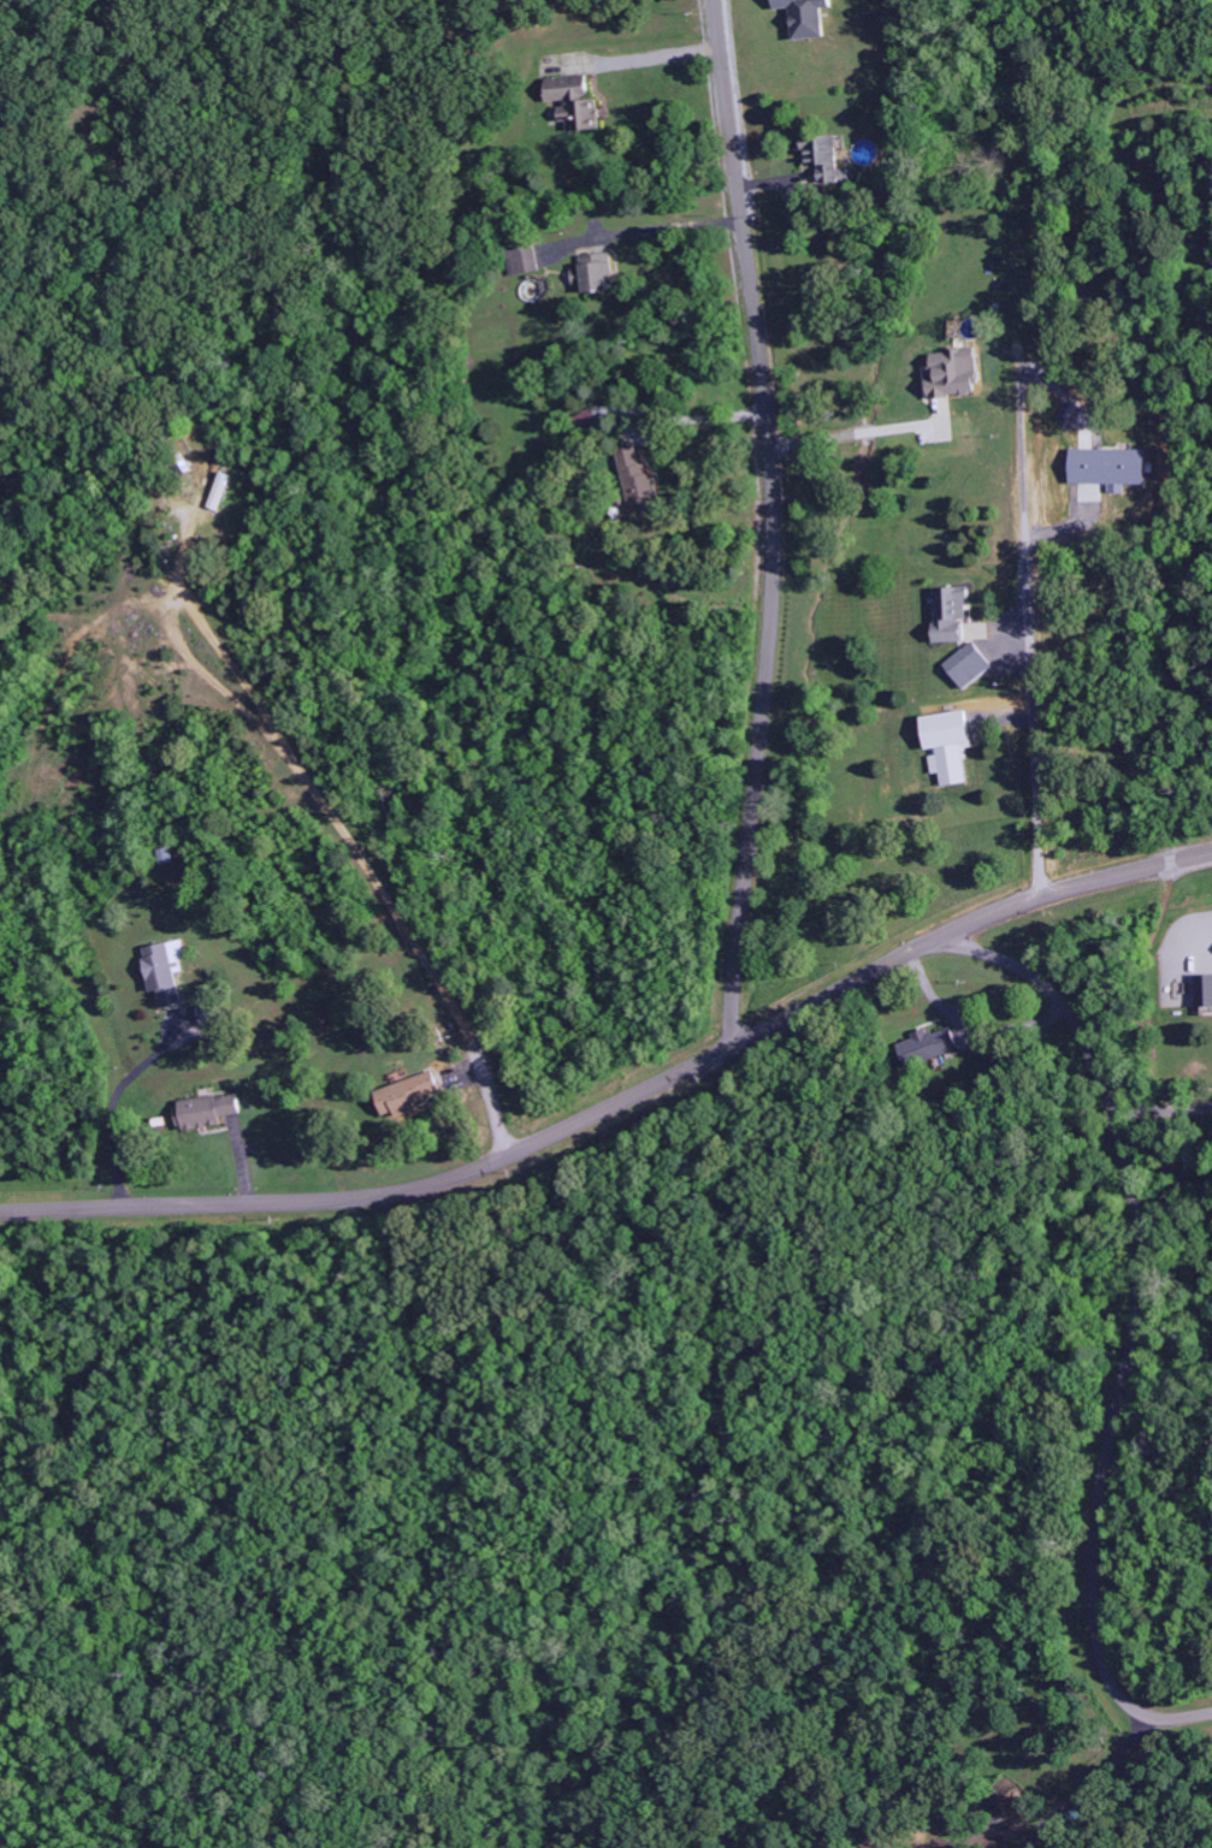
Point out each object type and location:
building: (802, 17)
building: (569, 101)
building: (820, 160)
building: (520, 260)
building: (591, 272)
building: (951, 373)
building: (591, 415)
building: (633, 479)
building: (217, 490)
road: (1022, 511)
road: (775, 522)
building: (950, 615)
building: (960, 665)
building: (946, 744)
building: (164, 857)
road: (1068, 884)
building: (166, 975)
building: (1201, 993)
building: (924, 1046)
building: (402, 1090)
road: (492, 1097)
building: (207, 1112)
building: (156, 1121)
road: (114, 1149)
road: (489, 1160)
road: (1131, 1321)

